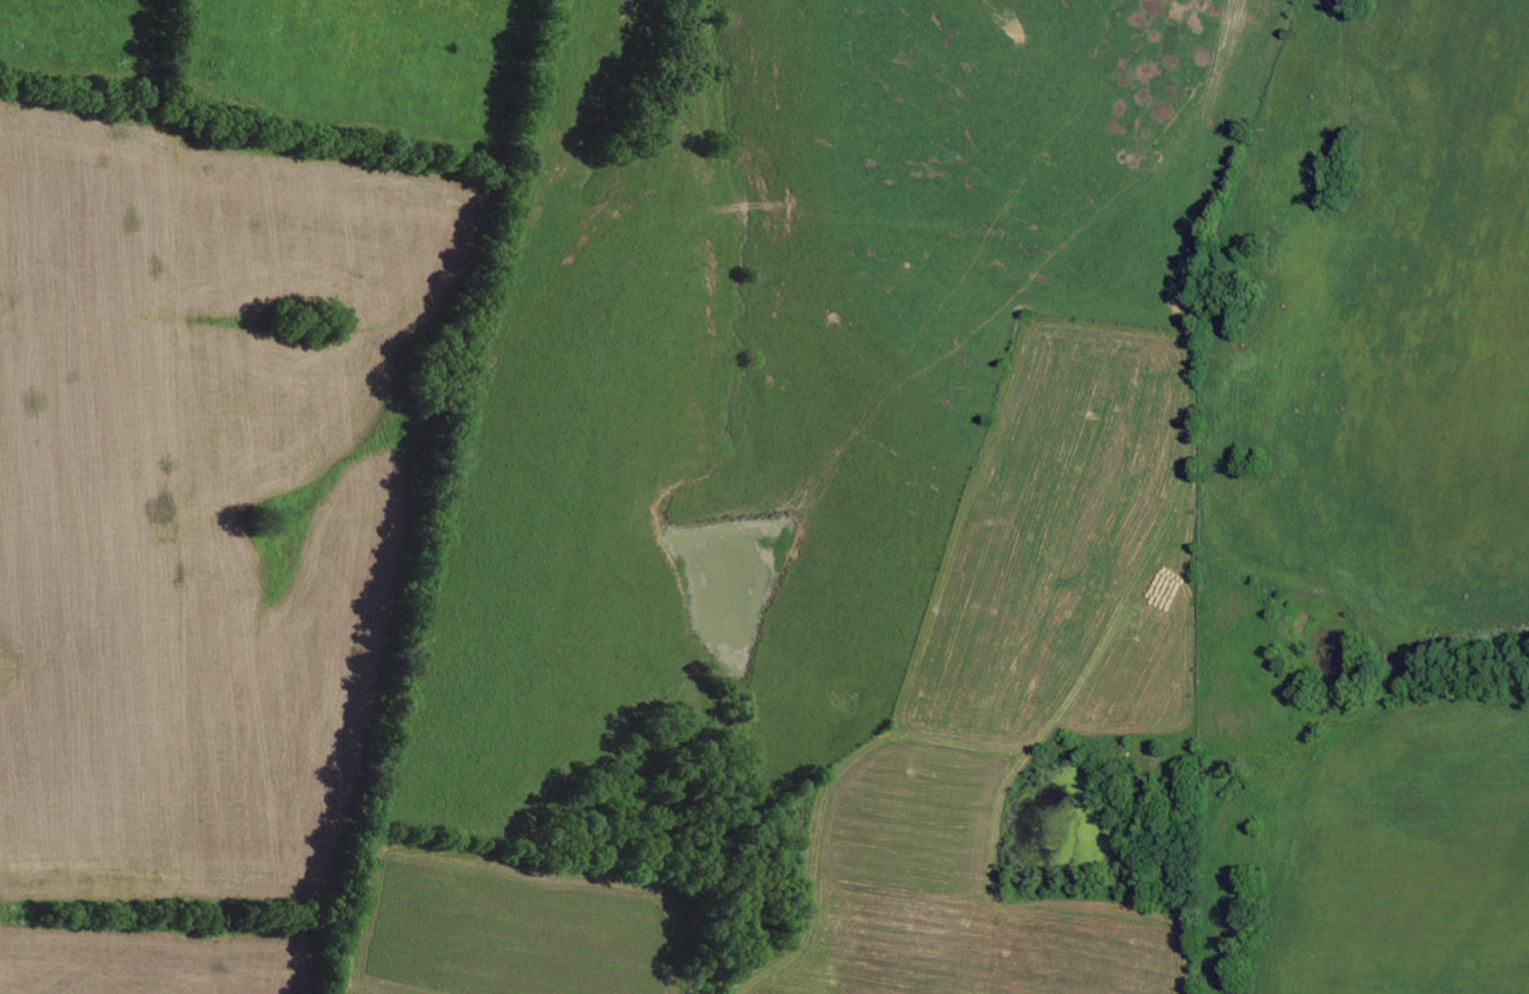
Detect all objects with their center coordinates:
road: (1373, 98)

